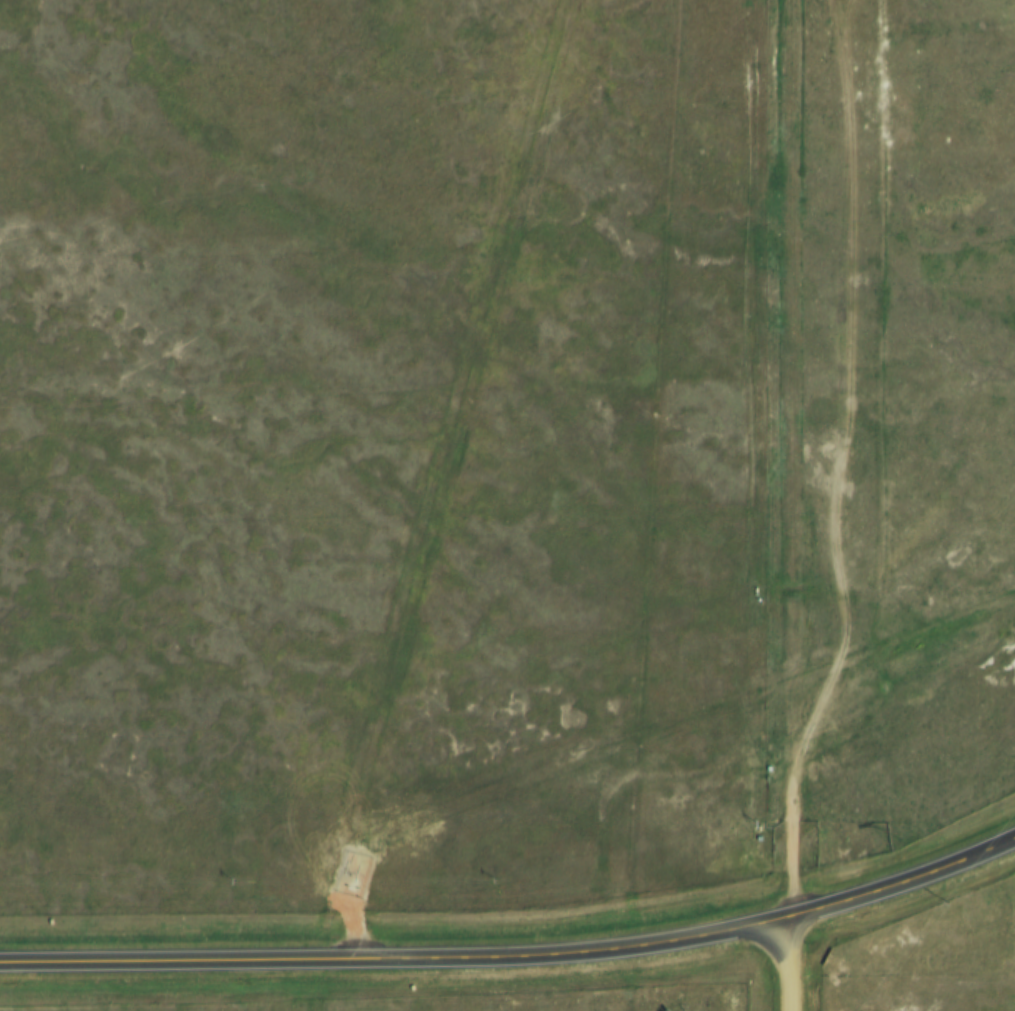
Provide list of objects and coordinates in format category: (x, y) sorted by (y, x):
road: (843, 324)
road: (835, 673)
road: (516, 960)
road: (790, 965)

